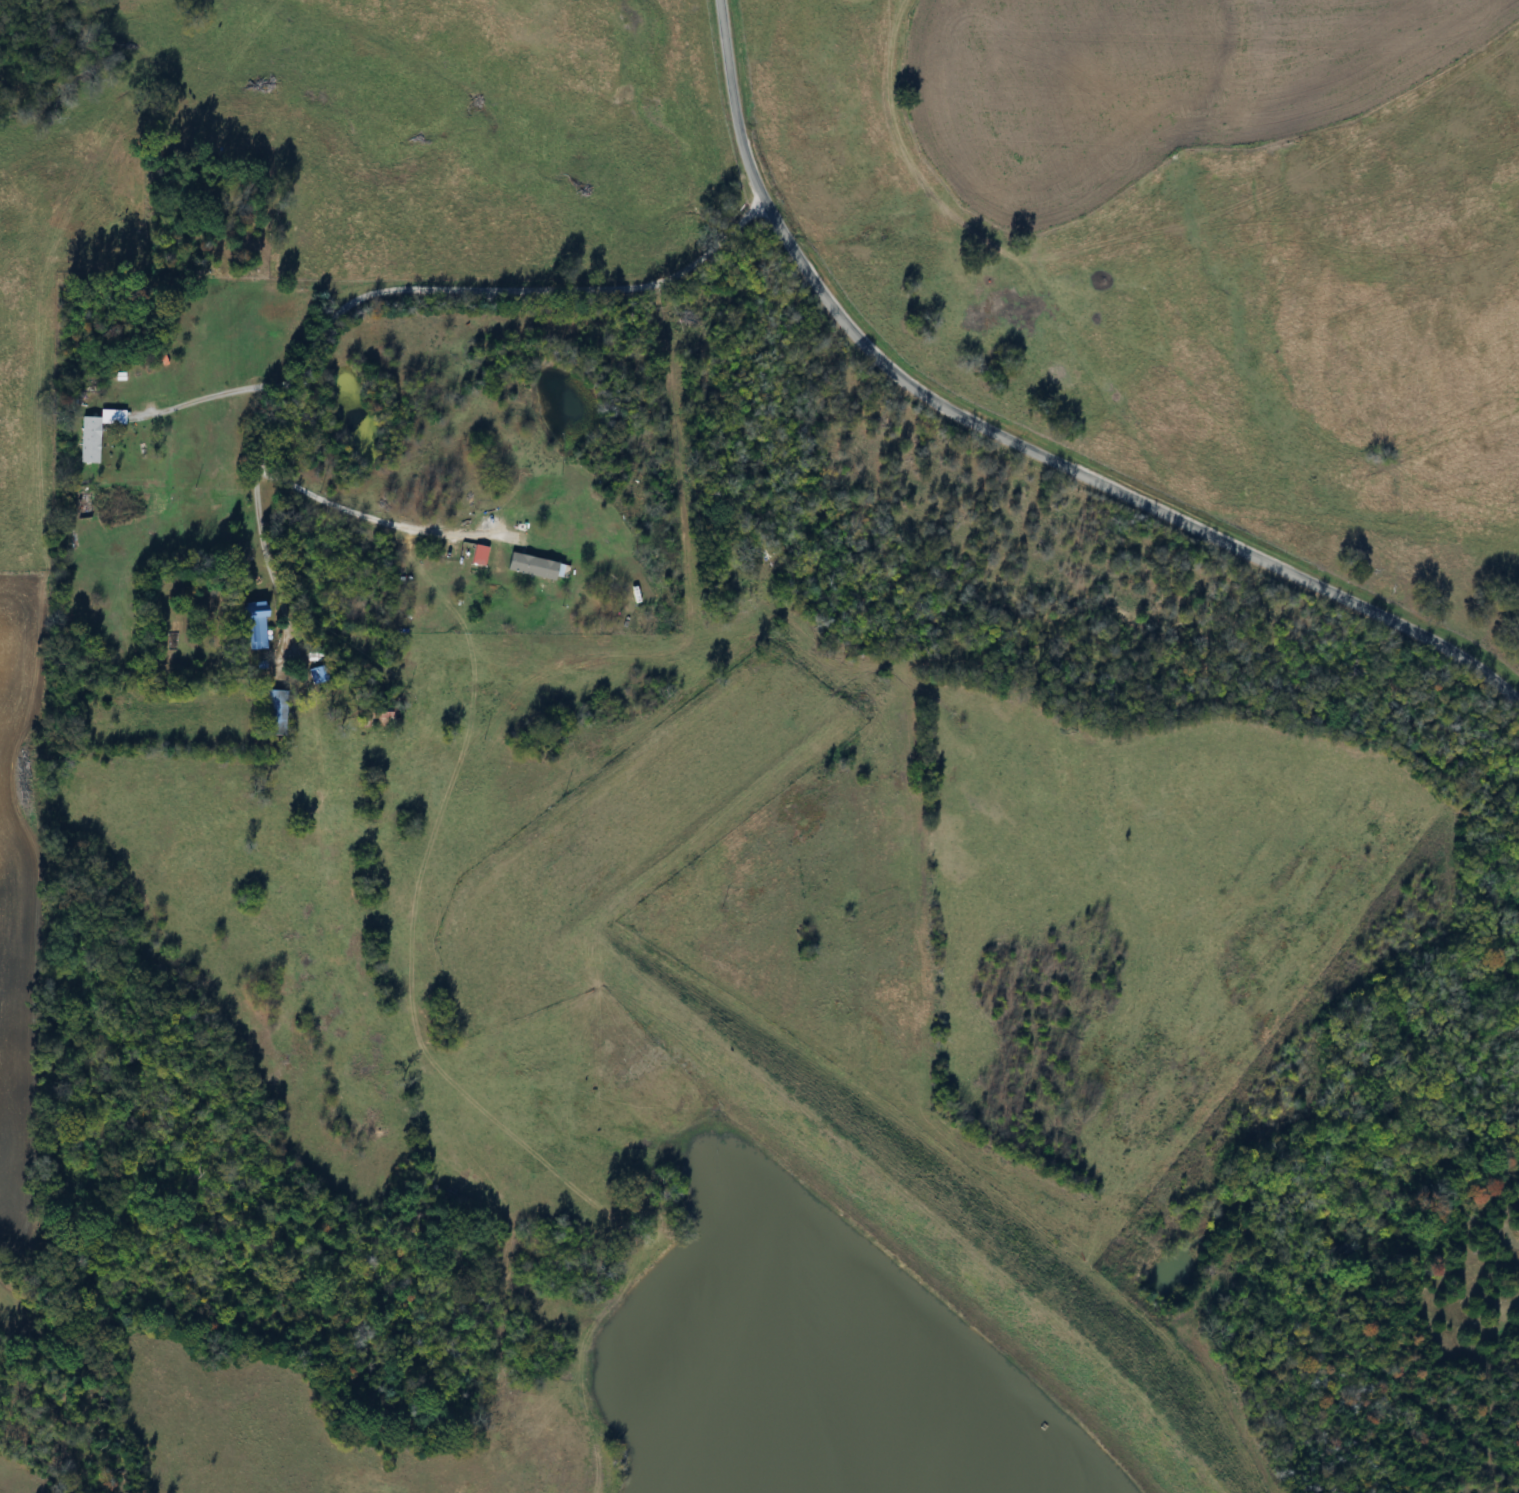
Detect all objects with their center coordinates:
park: (208, 209)
road: (406, 291)
road: (201, 400)
building: (88, 439)
road: (1015, 445)
road: (371, 515)
building: (251, 626)
building: (275, 712)

